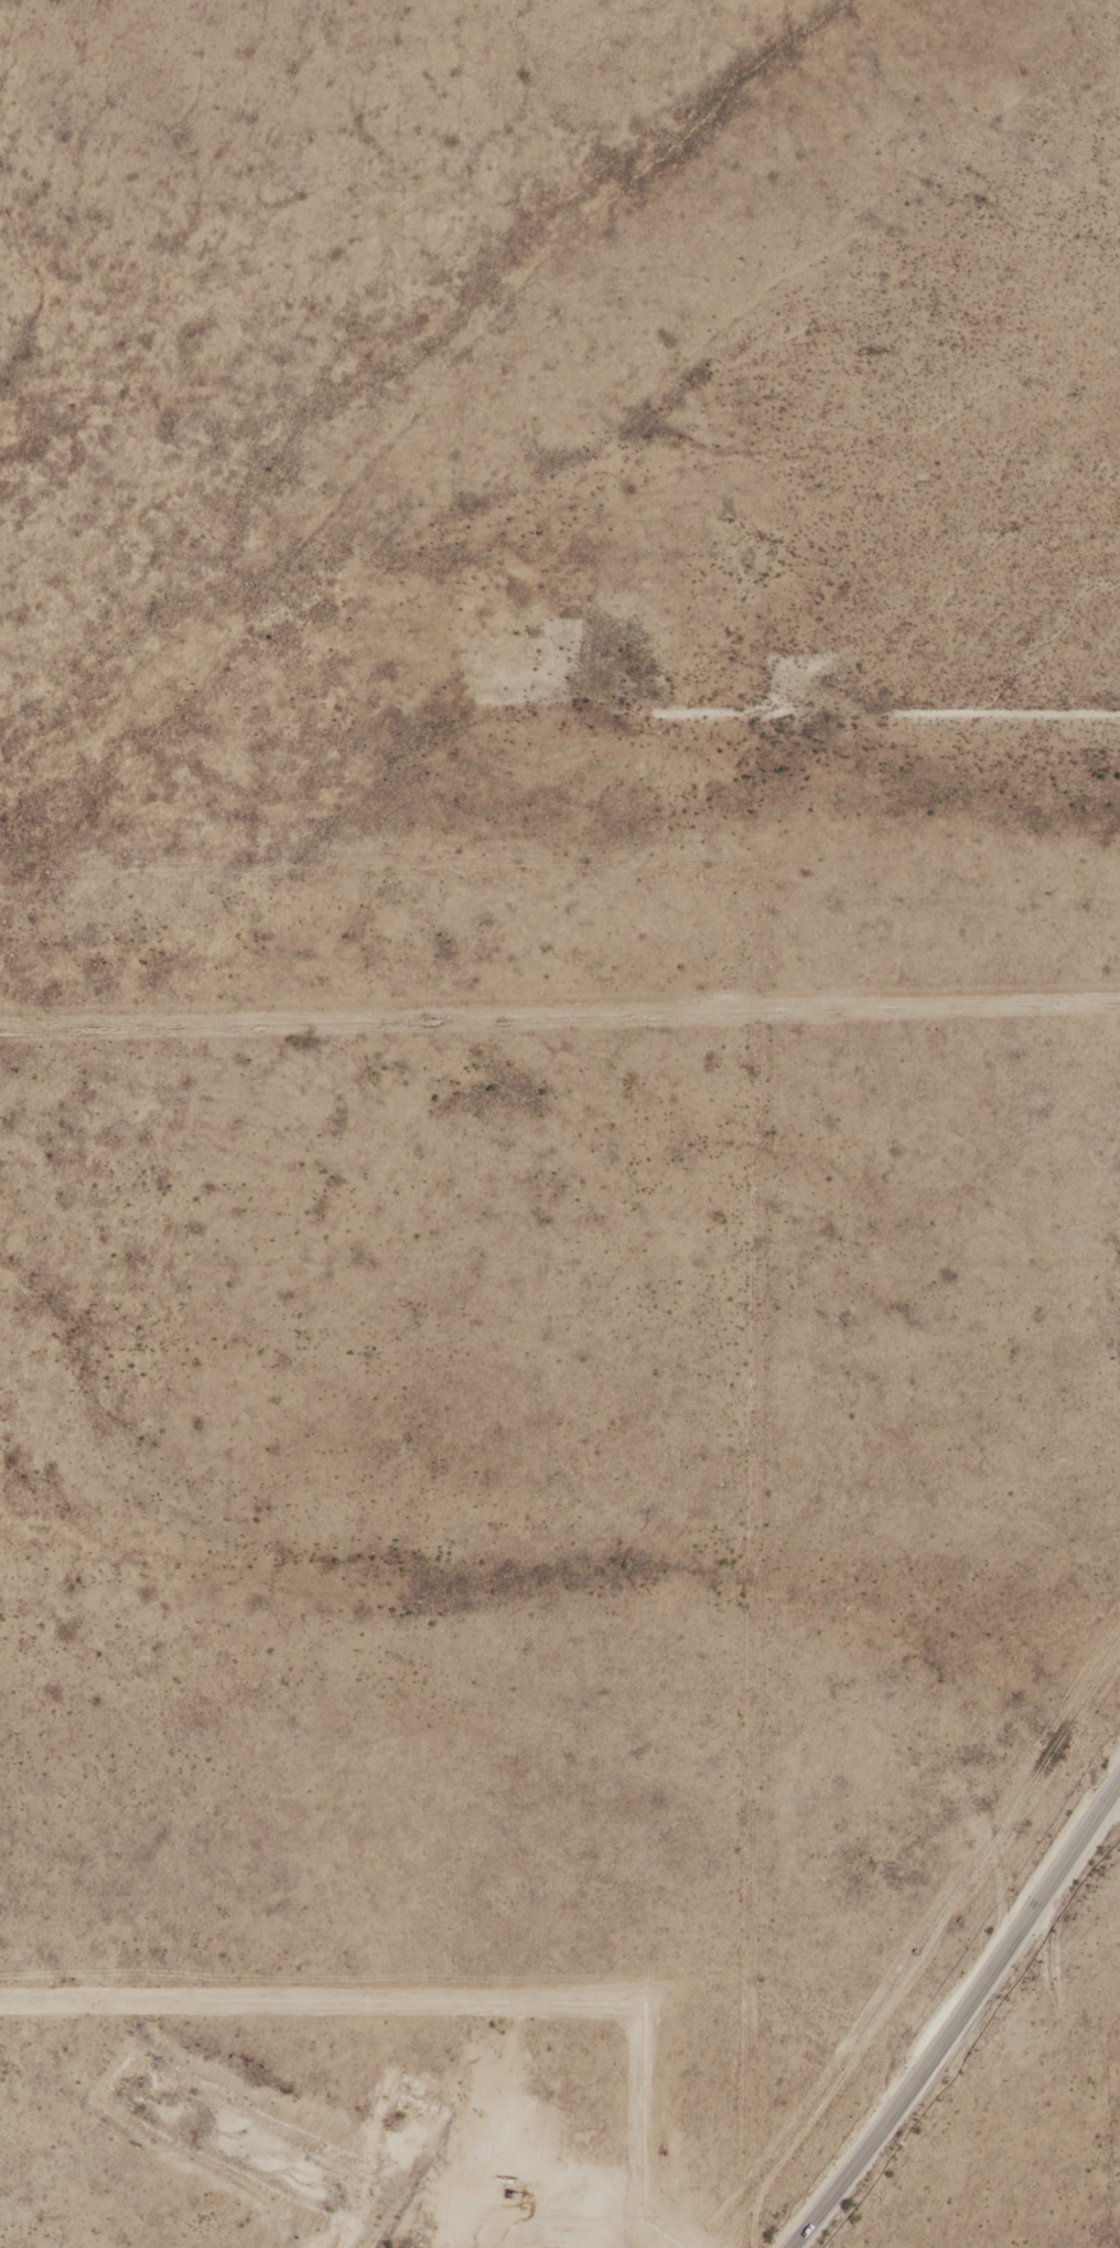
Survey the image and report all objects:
road: (1117, 1803)
road: (960, 2020)
petroleum well: (520, 2192)
road: (558, 2194)

